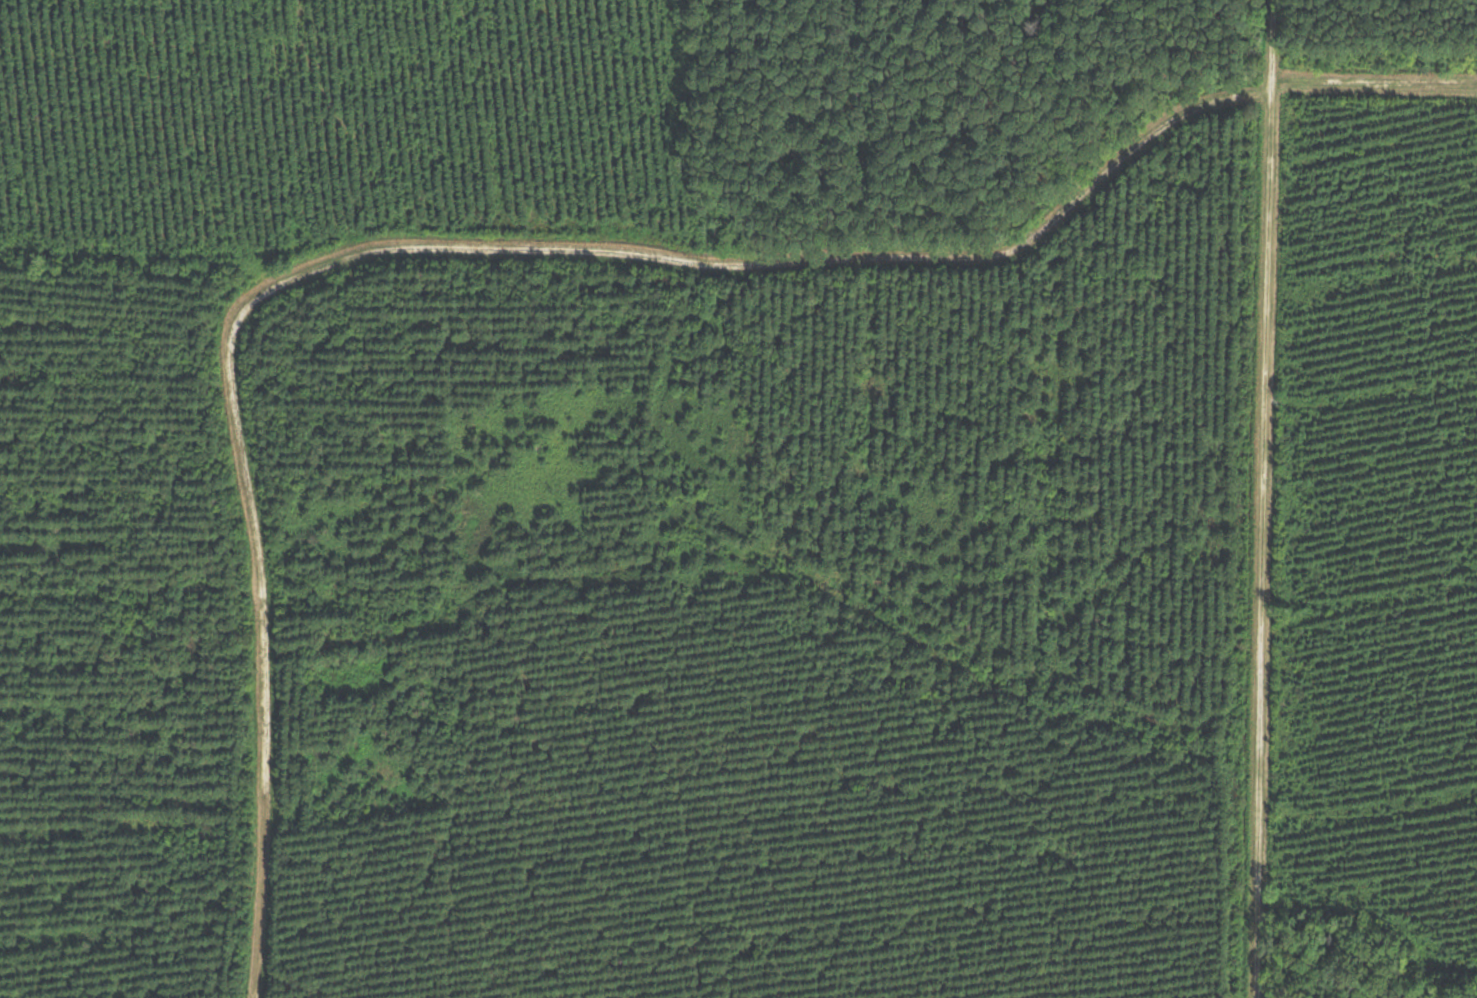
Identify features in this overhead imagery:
road: (1257, 499)

